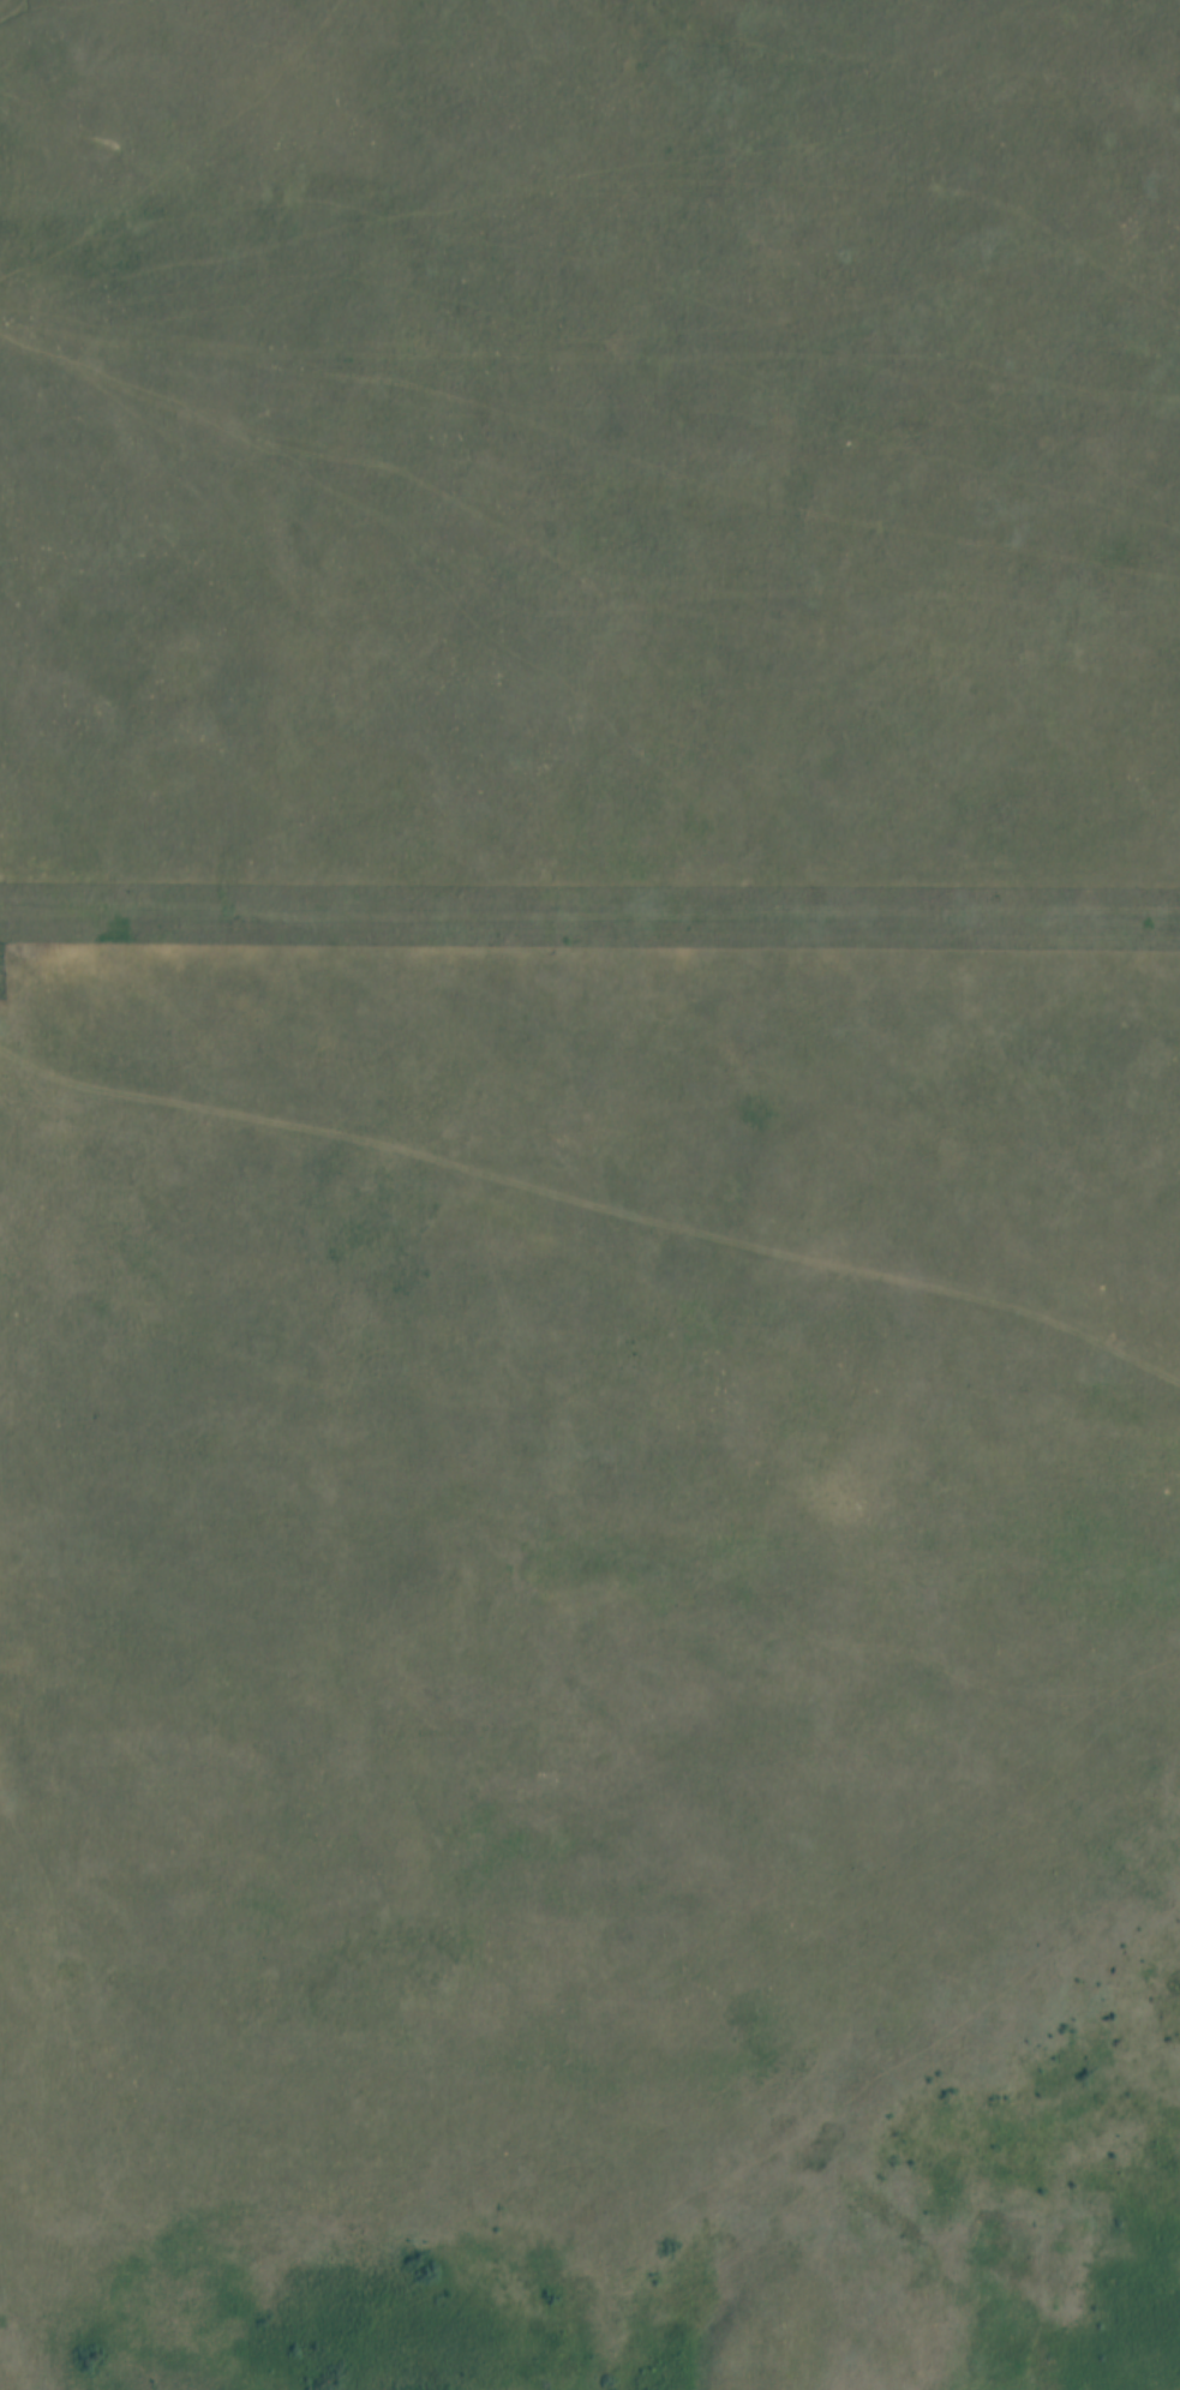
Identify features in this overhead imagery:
road: (589, 900)

